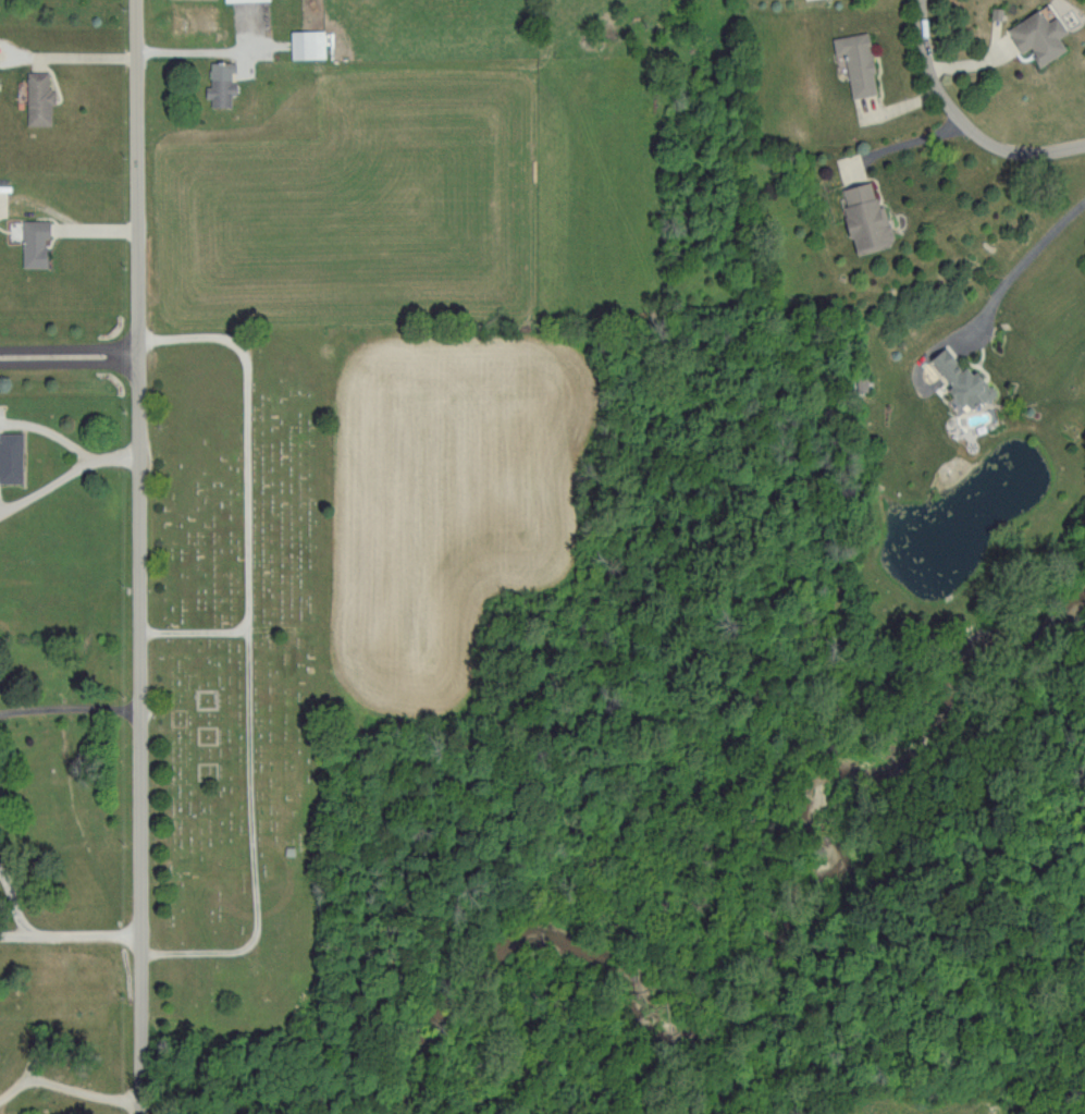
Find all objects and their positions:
building: (1034, 35)
building: (303, 41)
road: (141, 50)
building: (853, 60)
building: (215, 82)
building: (35, 97)
road: (964, 122)
road: (898, 140)
building: (861, 216)
building: (30, 241)
road: (1019, 265)
road: (67, 352)
building: (954, 378)
building: (9, 456)
road: (65, 470)
road: (137, 556)
park: (239, 675)
road: (67, 703)
road: (16, 908)
road: (69, 931)
road: (67, 1086)

